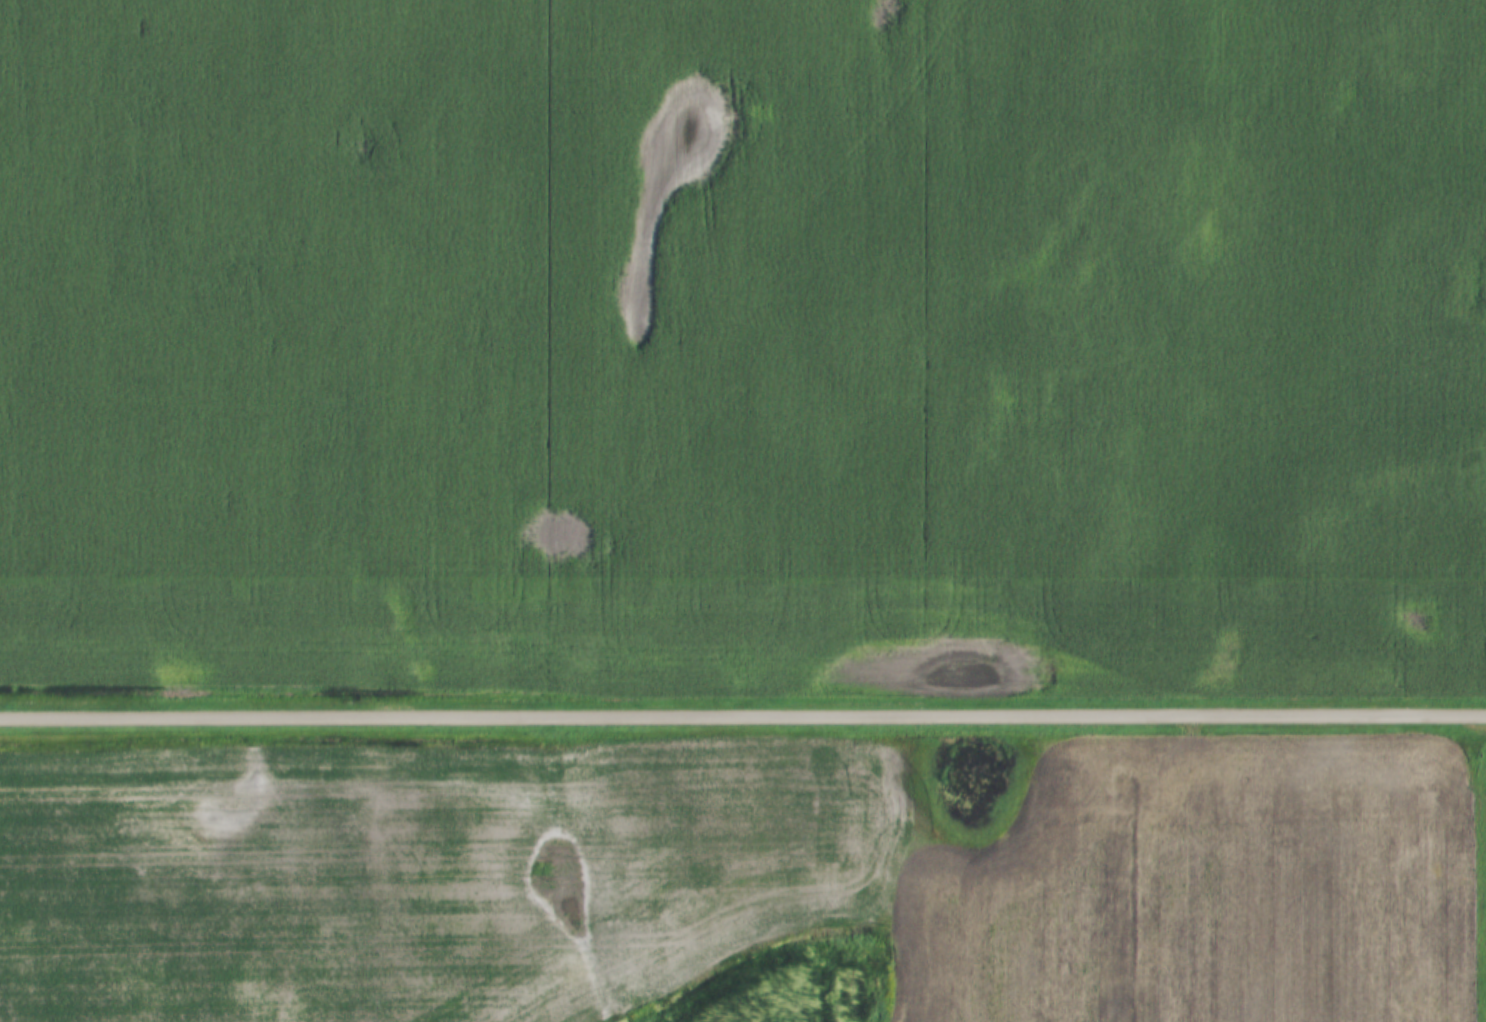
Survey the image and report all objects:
road: (743, 717)

